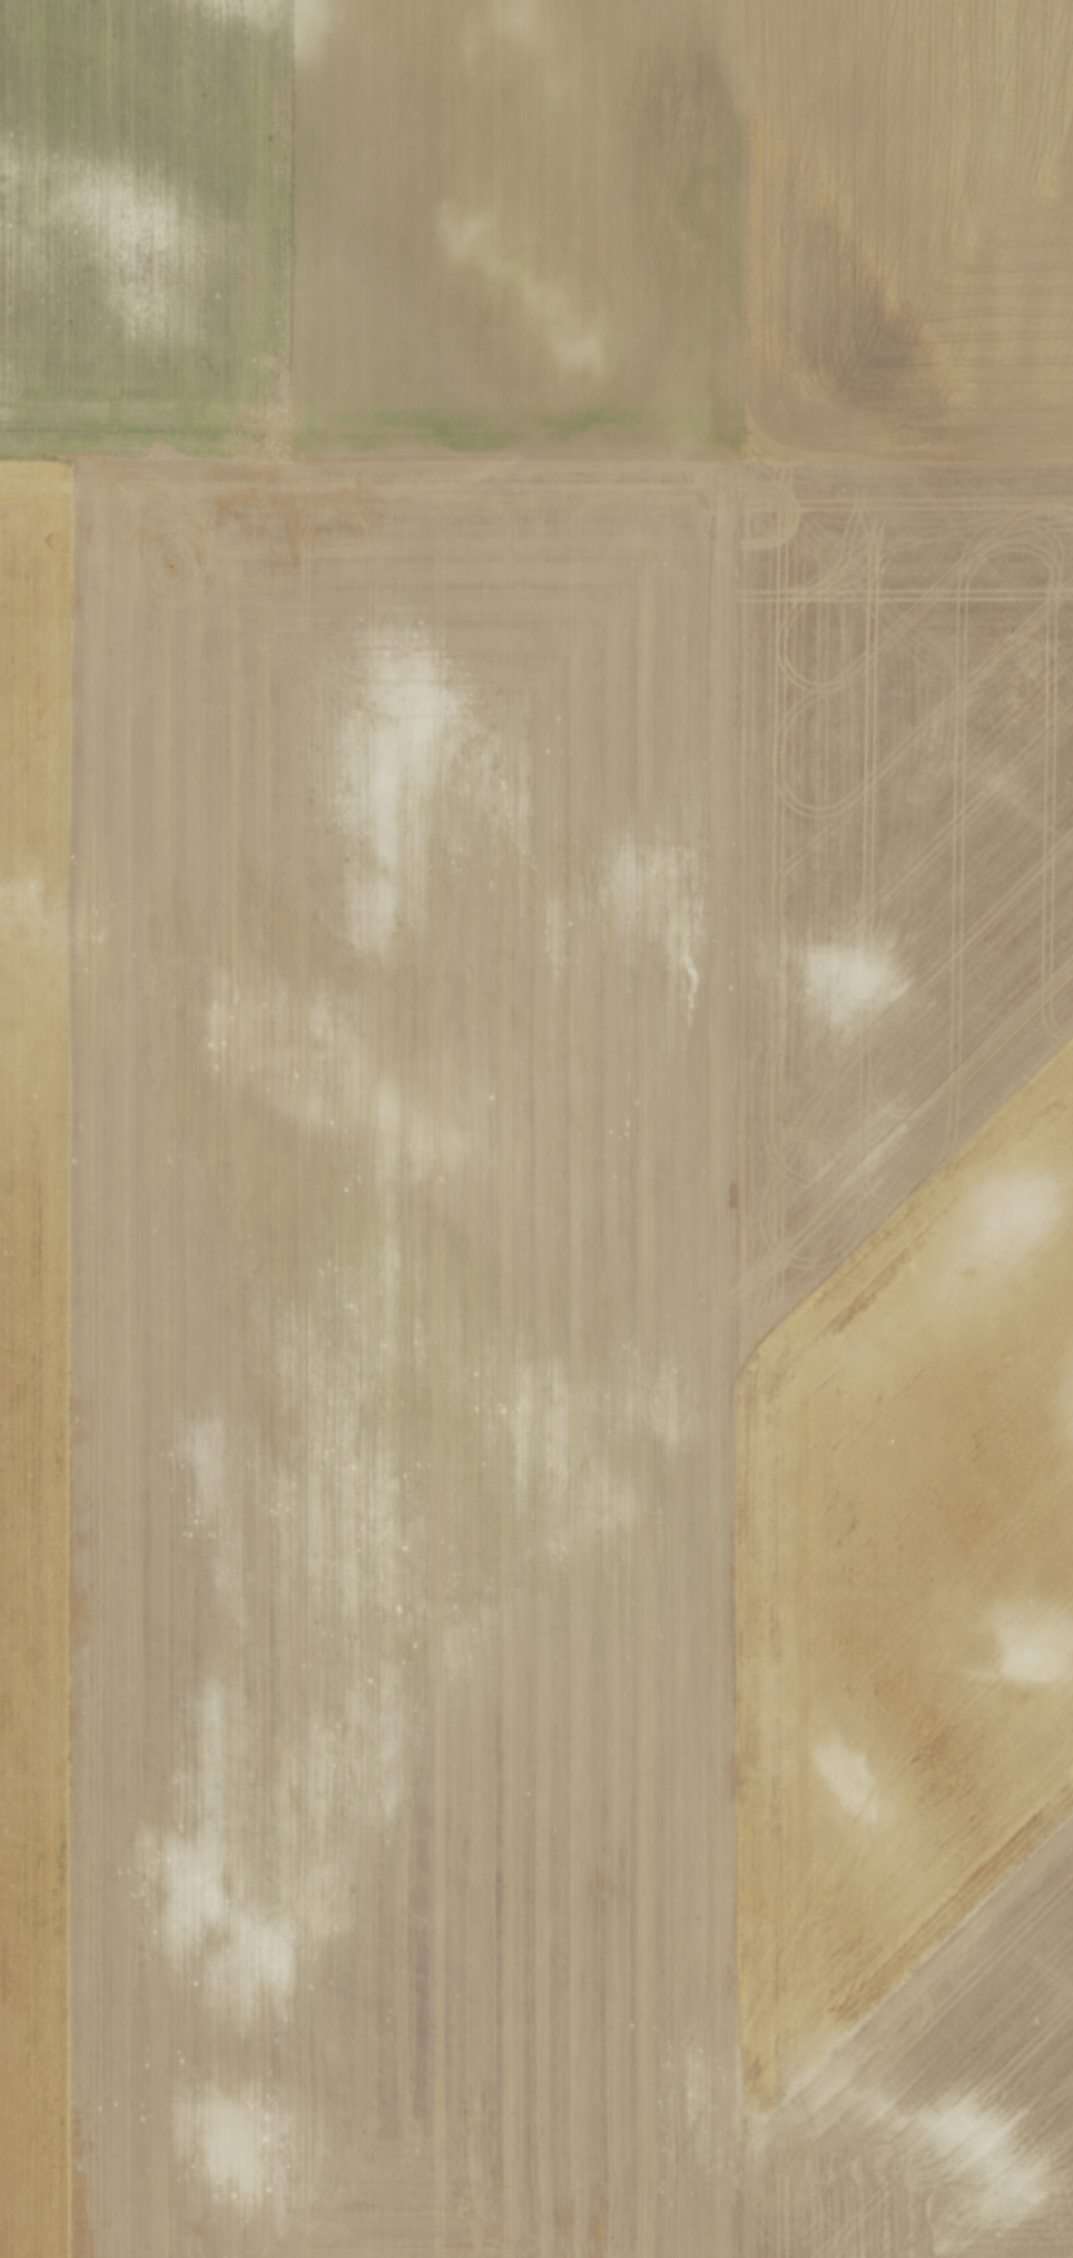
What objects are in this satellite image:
crop: (536, 1129)

